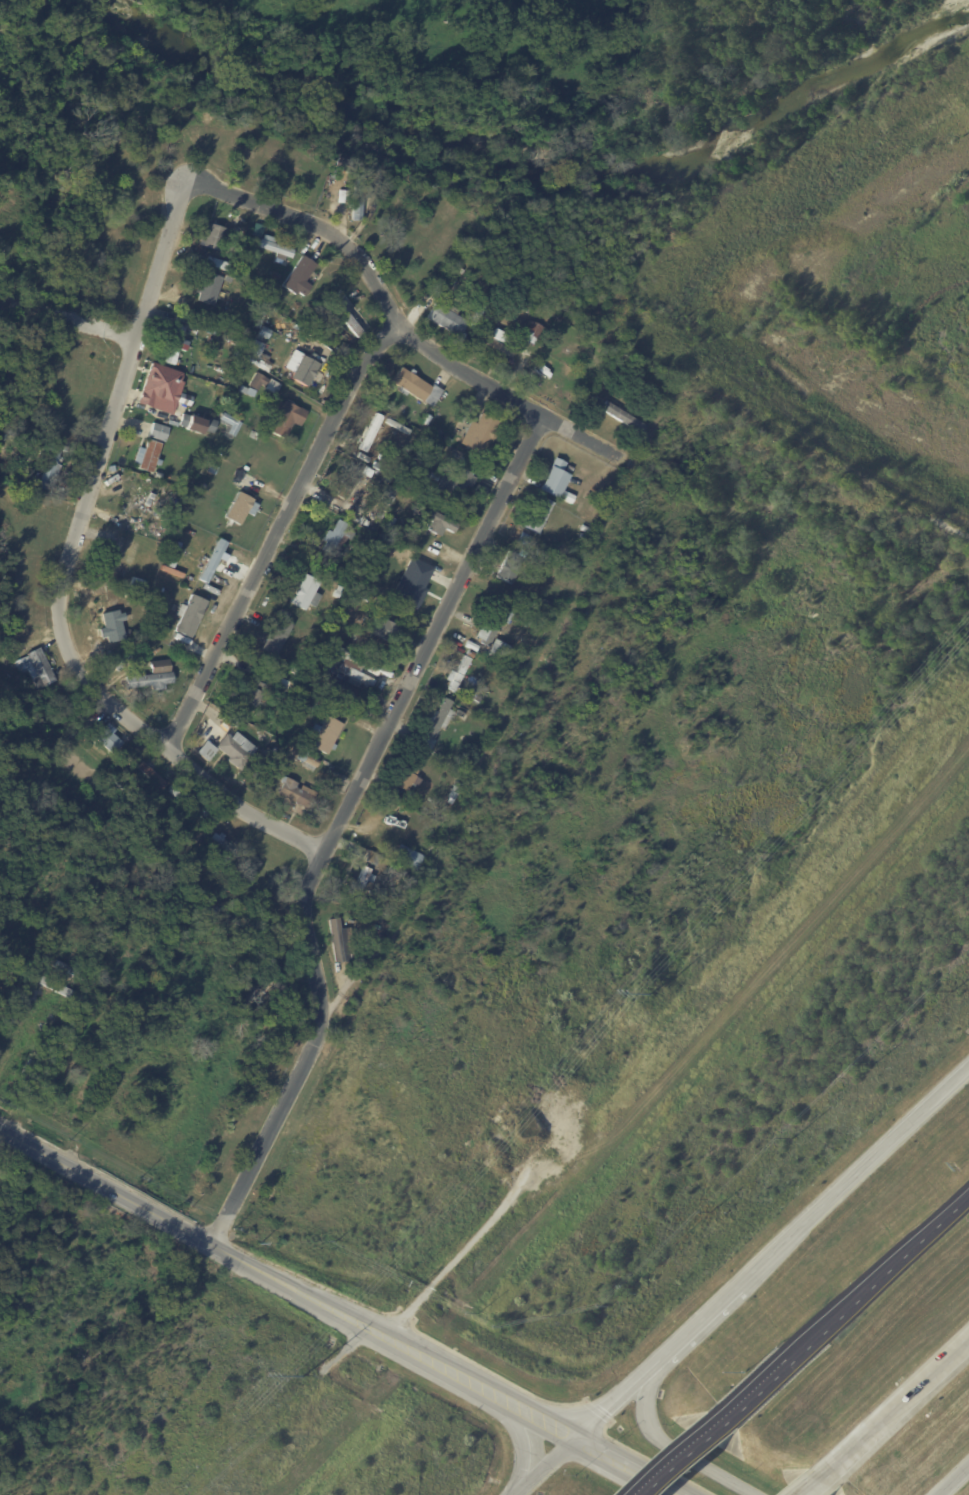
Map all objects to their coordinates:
building: (342, 165)
river: (526, 165)
building: (339, 196)
building: (356, 198)
building: (236, 220)
building: (211, 236)
building: (272, 247)
building: (216, 264)
building: (274, 276)
building: (298, 277)
building: (207, 289)
building: (276, 294)
building: (484, 304)
building: (523, 310)
road: (68, 318)
road: (395, 318)
building: (444, 318)
building: (513, 319)
building: (345, 320)
building: (529, 331)
building: (256, 341)
building: (496, 343)
building: (173, 346)
building: (303, 370)
building: (261, 383)
building: (415, 387)
building: (159, 389)
building: (244, 391)
building: (620, 417)
building: (285, 418)
building: (190, 423)
building: (228, 424)
building: (208, 426)
building: (156, 432)
building: (368, 433)
building: (478, 433)
building: (445, 440)
building: (147, 456)
building: (372, 465)
building: (210, 469)
building: (46, 471)
building: (365, 472)
building: (453, 481)
building: (554, 481)
building: (345, 482)
building: (321, 484)
building: (389, 493)
building: (238, 507)
building: (536, 514)
building: (432, 520)
road: (943, 523)
building: (584, 529)
building: (134, 530)
road: (275, 531)
building: (364, 537)
building: (106, 538)
building: (581, 538)
building: (334, 539)
building: (113, 559)
building: (211, 561)
building: (507, 568)
road: (63, 572)
building: (410, 584)
building: (134, 585)
building: (304, 593)
building: (542, 607)
building: (348, 613)
building: (388, 613)
building: (188, 615)
building: (492, 626)
building: (152, 628)
building: (381, 630)
building: (161, 632)
building: (275, 636)
building: (470, 646)
building: (492, 650)
building: (117, 662)
building: (158, 666)
building: (351, 667)
building: (34, 668)
building: (297, 671)
building: (455, 673)
building: (146, 681)
building: (256, 693)
building: (457, 714)
building: (433, 725)
building: (325, 735)
building: (104, 737)
building: (235, 749)
building: (205, 751)
building: (263, 756)
building: (307, 760)
building: (406, 774)
building: (152, 777)
building: (293, 792)
building: (449, 797)
building: (407, 798)
building: (187, 801)
road: (337, 823)
building: (226, 845)
building: (404, 857)
building: (370, 859)
building: (357, 884)
building: (369, 907)
building: (333, 940)
building: (64, 969)
building: (53, 981)
power tower: (656, 998)
road: (20, 1027)
road: (854, 1177)
road: (880, 1278)
road: (287, 1283)
road: (698, 1323)
power tower: (310, 1380)
road: (767, 1383)
road: (615, 1399)
road: (905, 1406)
road: (522, 1444)
road: (671, 1446)
road: (695, 1450)
road: (543, 1466)
road: (624, 1466)
road: (826, 1481)
road: (954, 1481)

